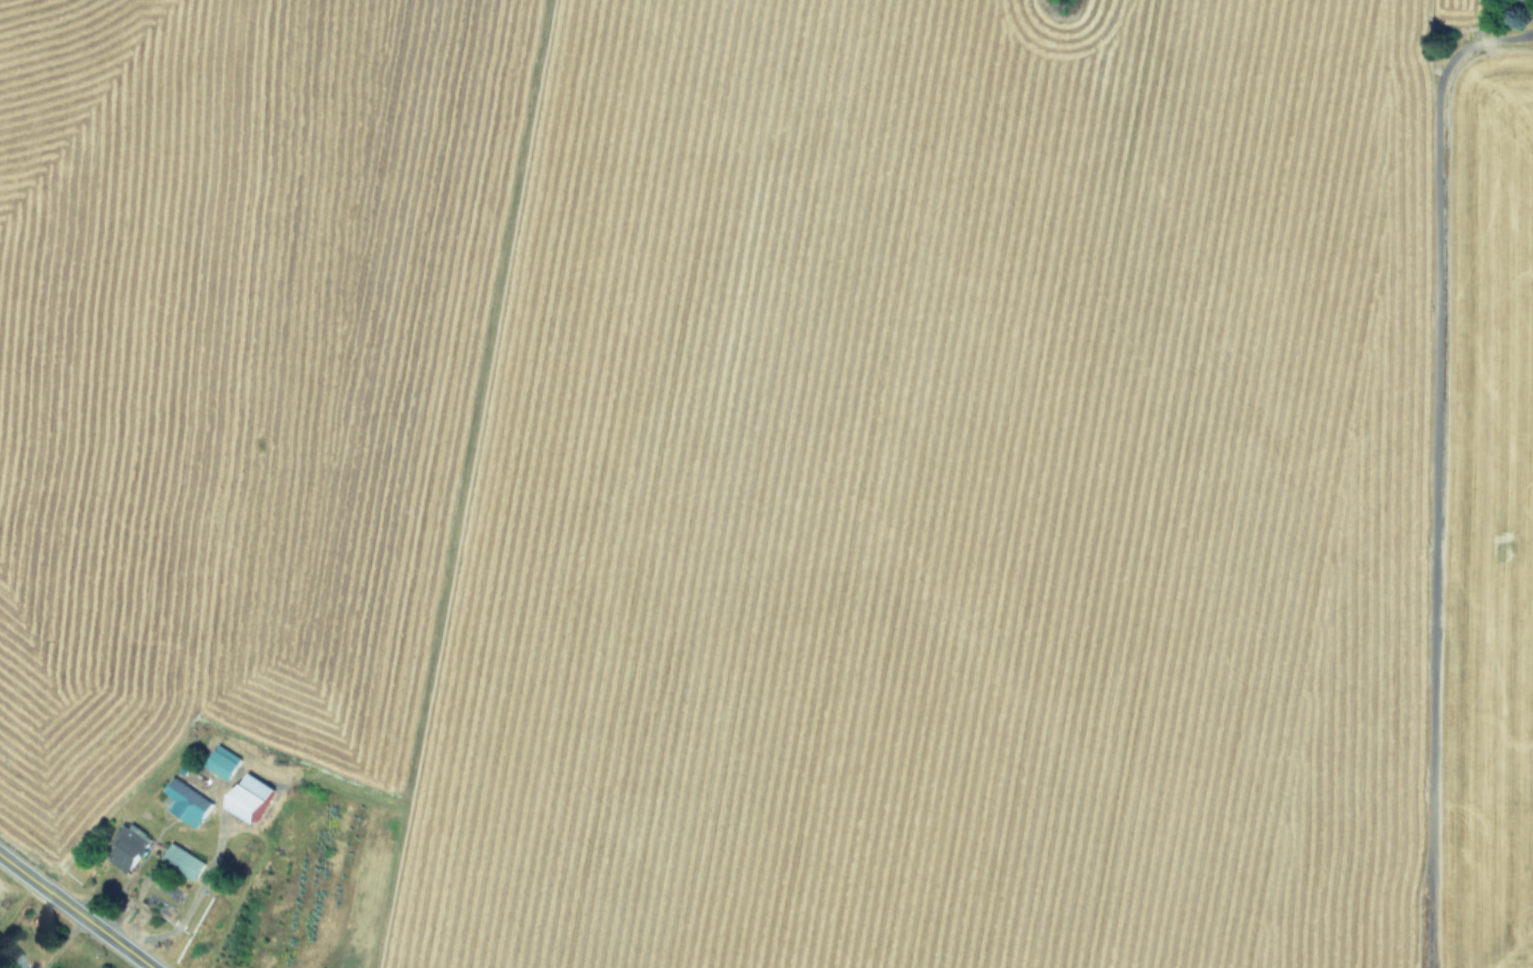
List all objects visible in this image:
road: (1433, 466)
crop: (773, 479)
building: (223, 760)
building: (251, 795)
building: (187, 800)
building: (127, 845)
building: (184, 859)
road: (75, 911)
building: (58, 967)

